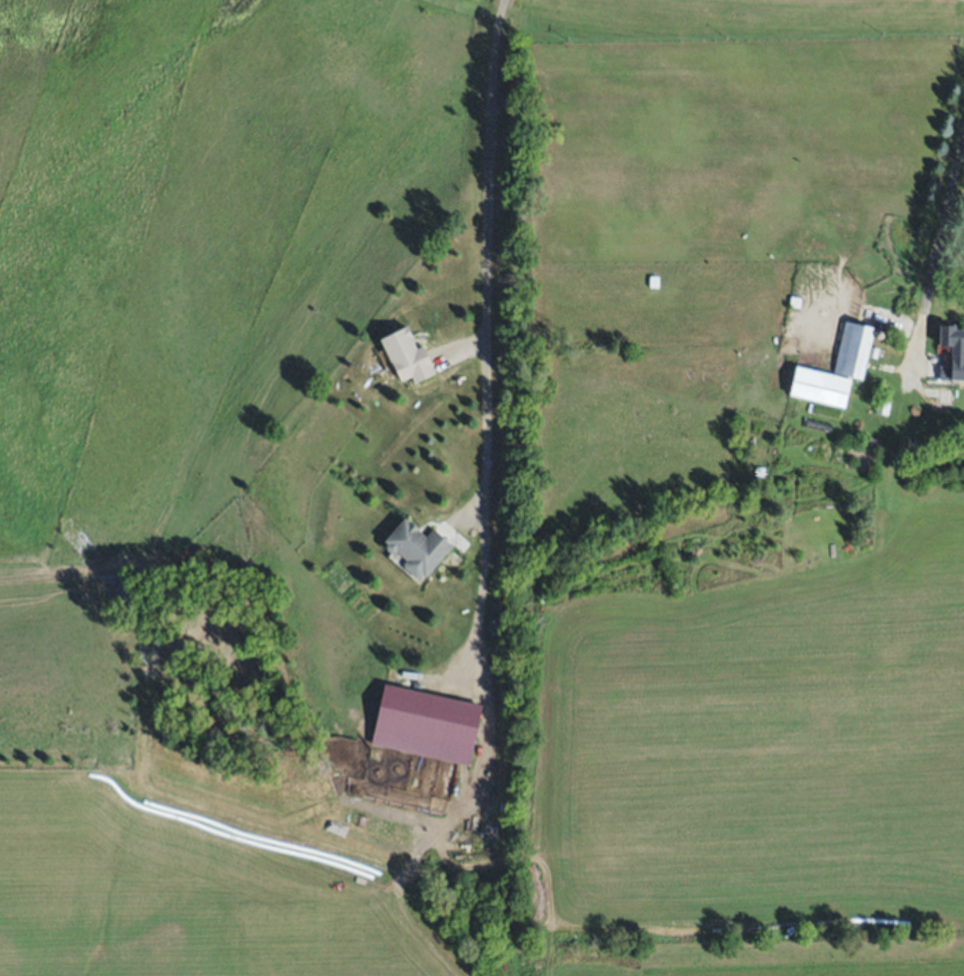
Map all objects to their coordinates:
road: (946, 213)
building: (795, 302)
road: (480, 313)
building: (952, 351)
building: (874, 352)
building: (406, 357)
building: (836, 369)
building: (945, 394)
building: (883, 406)
building: (848, 437)
building: (874, 442)
building: (760, 471)
building: (417, 547)
building: (425, 725)

